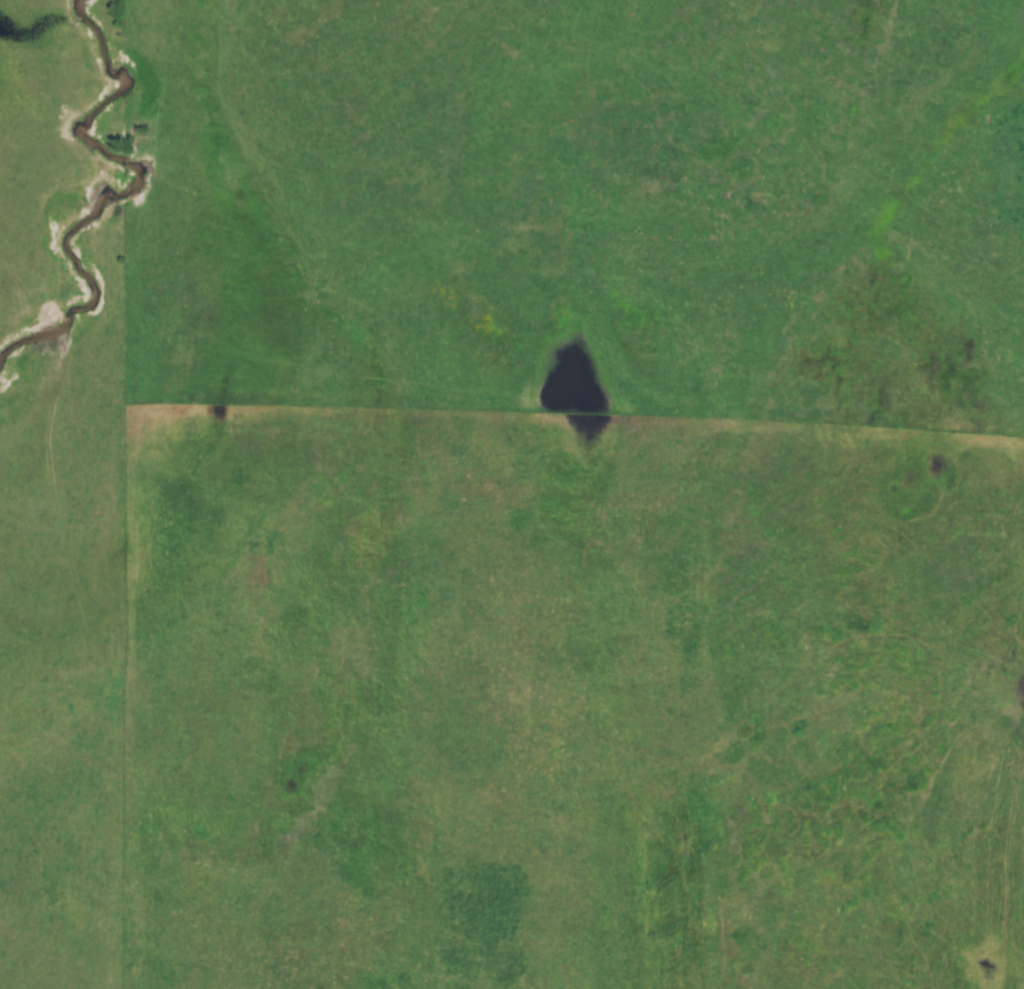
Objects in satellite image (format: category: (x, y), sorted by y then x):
river: (115, 195)

